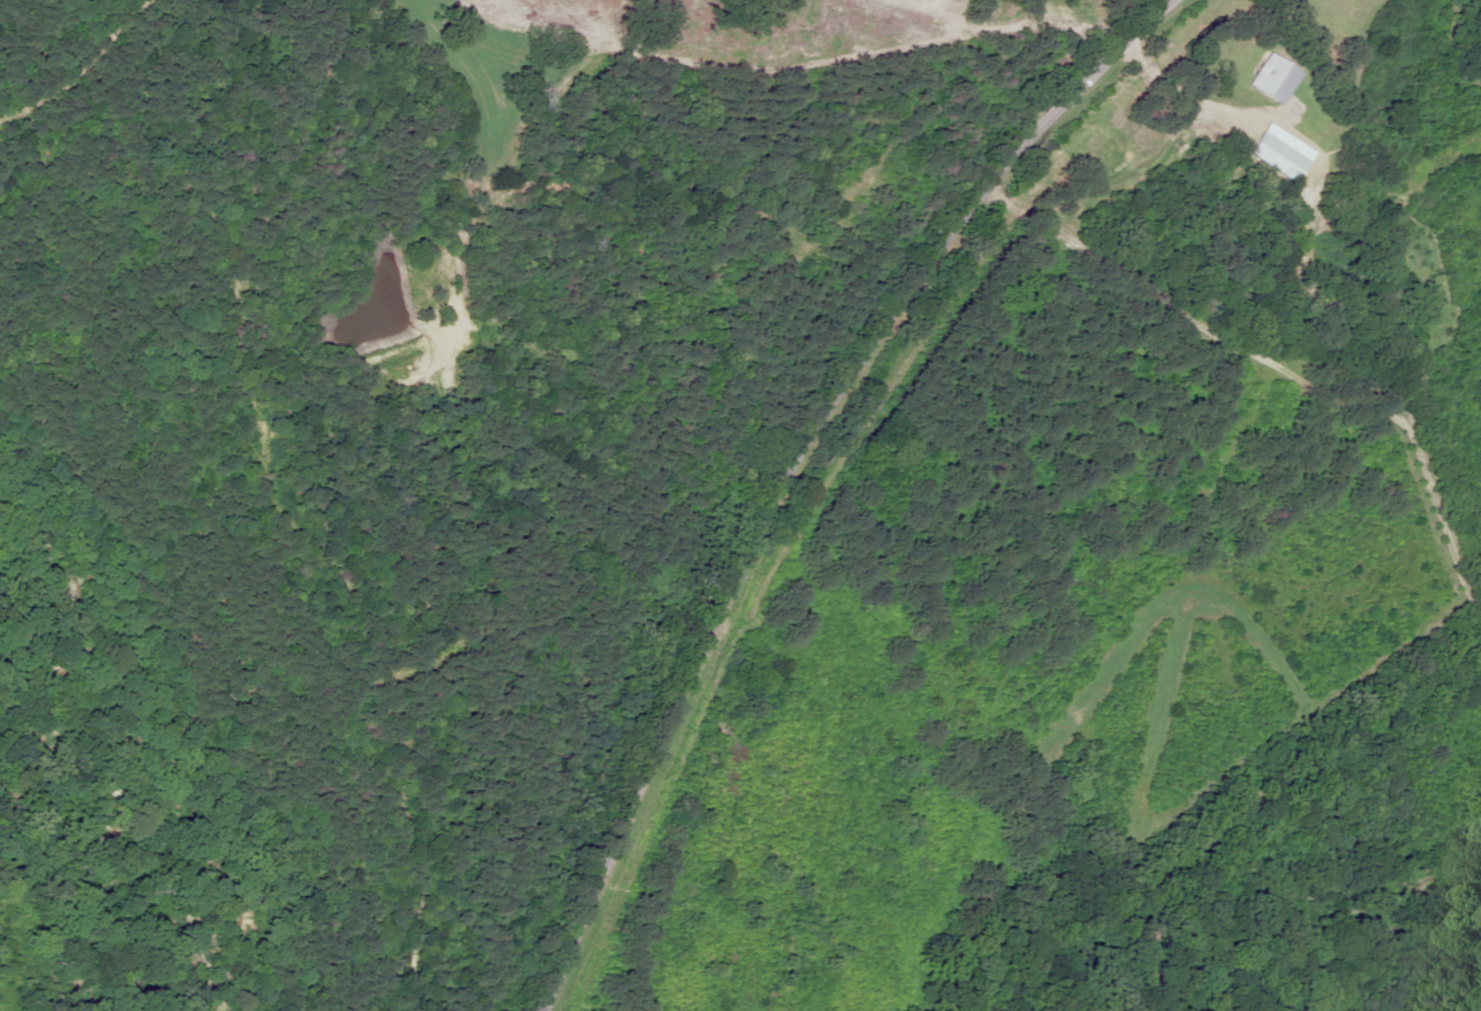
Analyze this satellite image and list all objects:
road: (1080, 80)
building: (1281, 153)
road: (1285, 311)
road: (750, 576)

